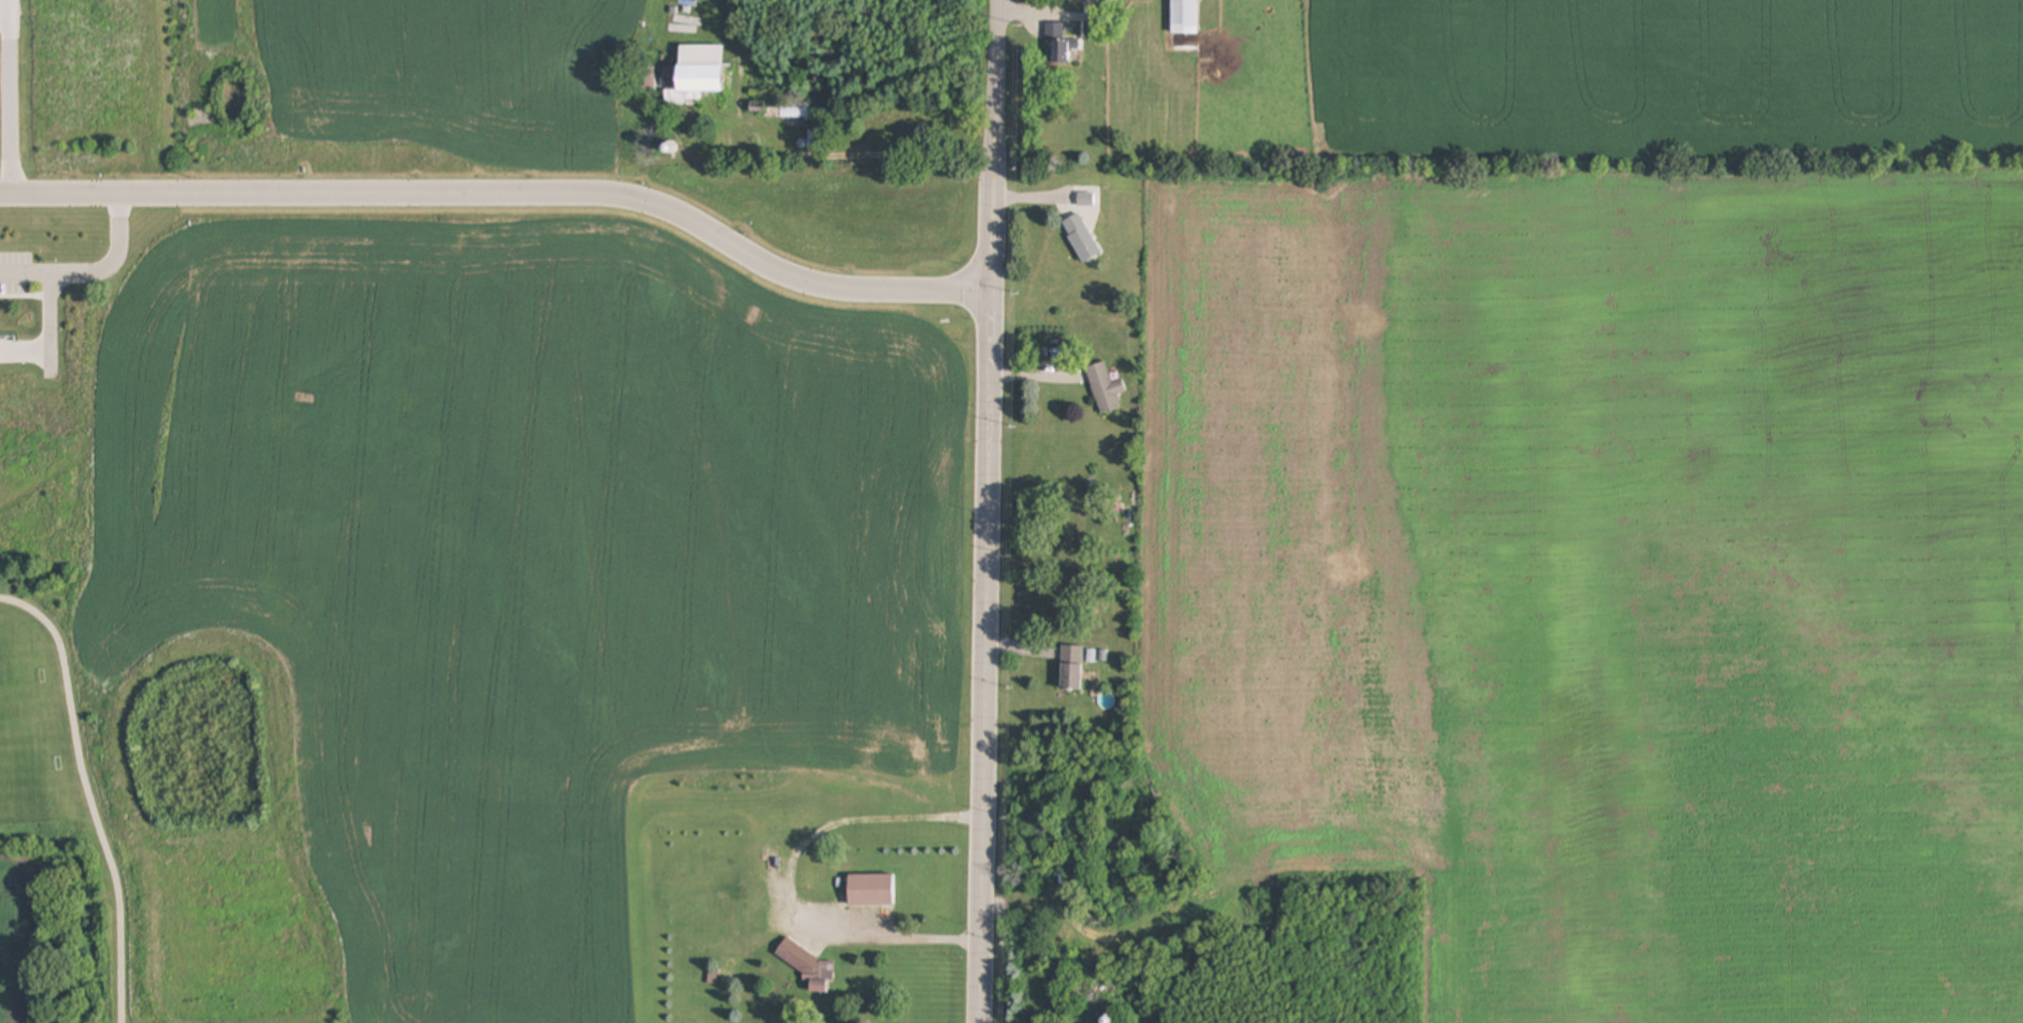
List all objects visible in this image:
road: (3, 11)
road: (1061, 17)
building: (1185, 17)
building: (1059, 46)
building: (696, 75)
building: (645, 81)
road: (9, 98)
building: (788, 110)
building: (898, 128)
road: (508, 195)
building: (1081, 238)
road: (93, 275)
road: (50, 318)
road: (1039, 380)
building: (1105, 389)
road: (992, 511)
building: (1073, 668)
road: (89, 794)
park: (159, 819)
road: (780, 878)
building: (872, 890)
building: (734, 915)
building: (808, 966)

